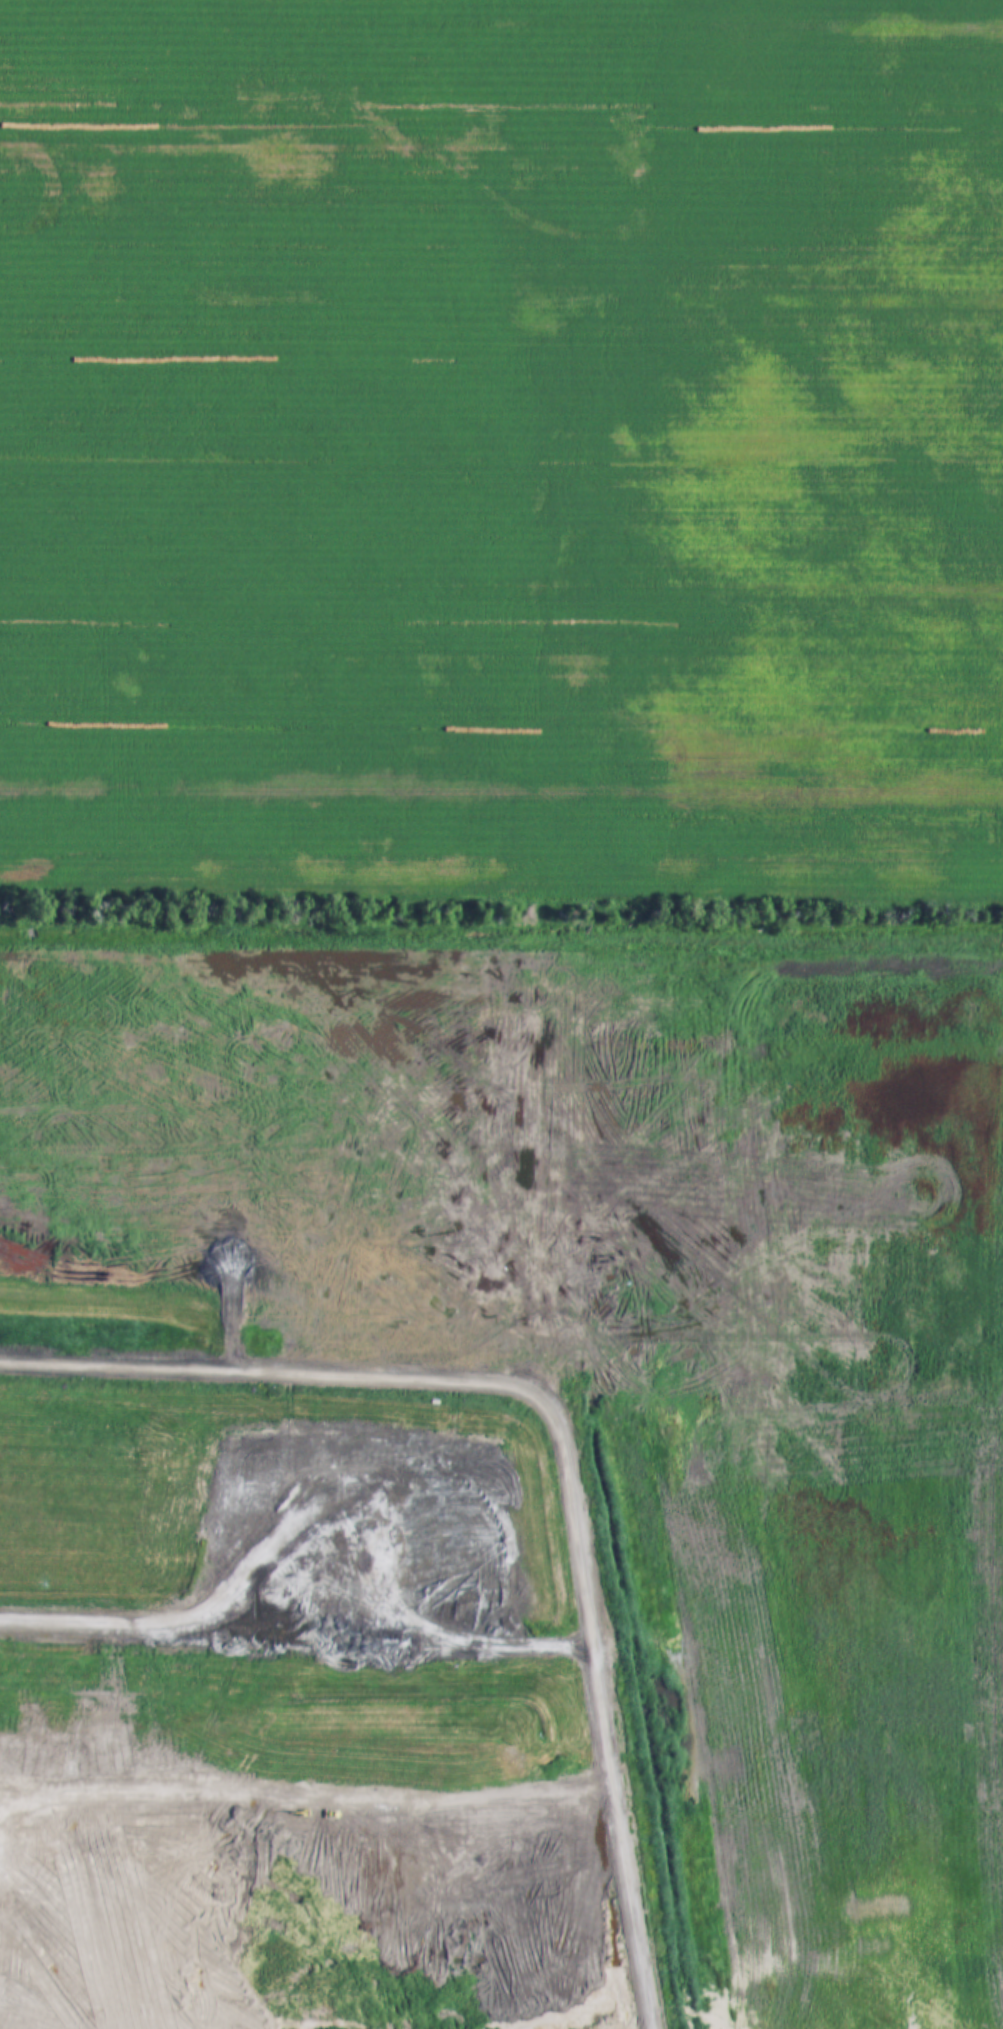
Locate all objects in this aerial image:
crop: (502, 455)
crop: (677, 1357)
road: (556, 1453)

